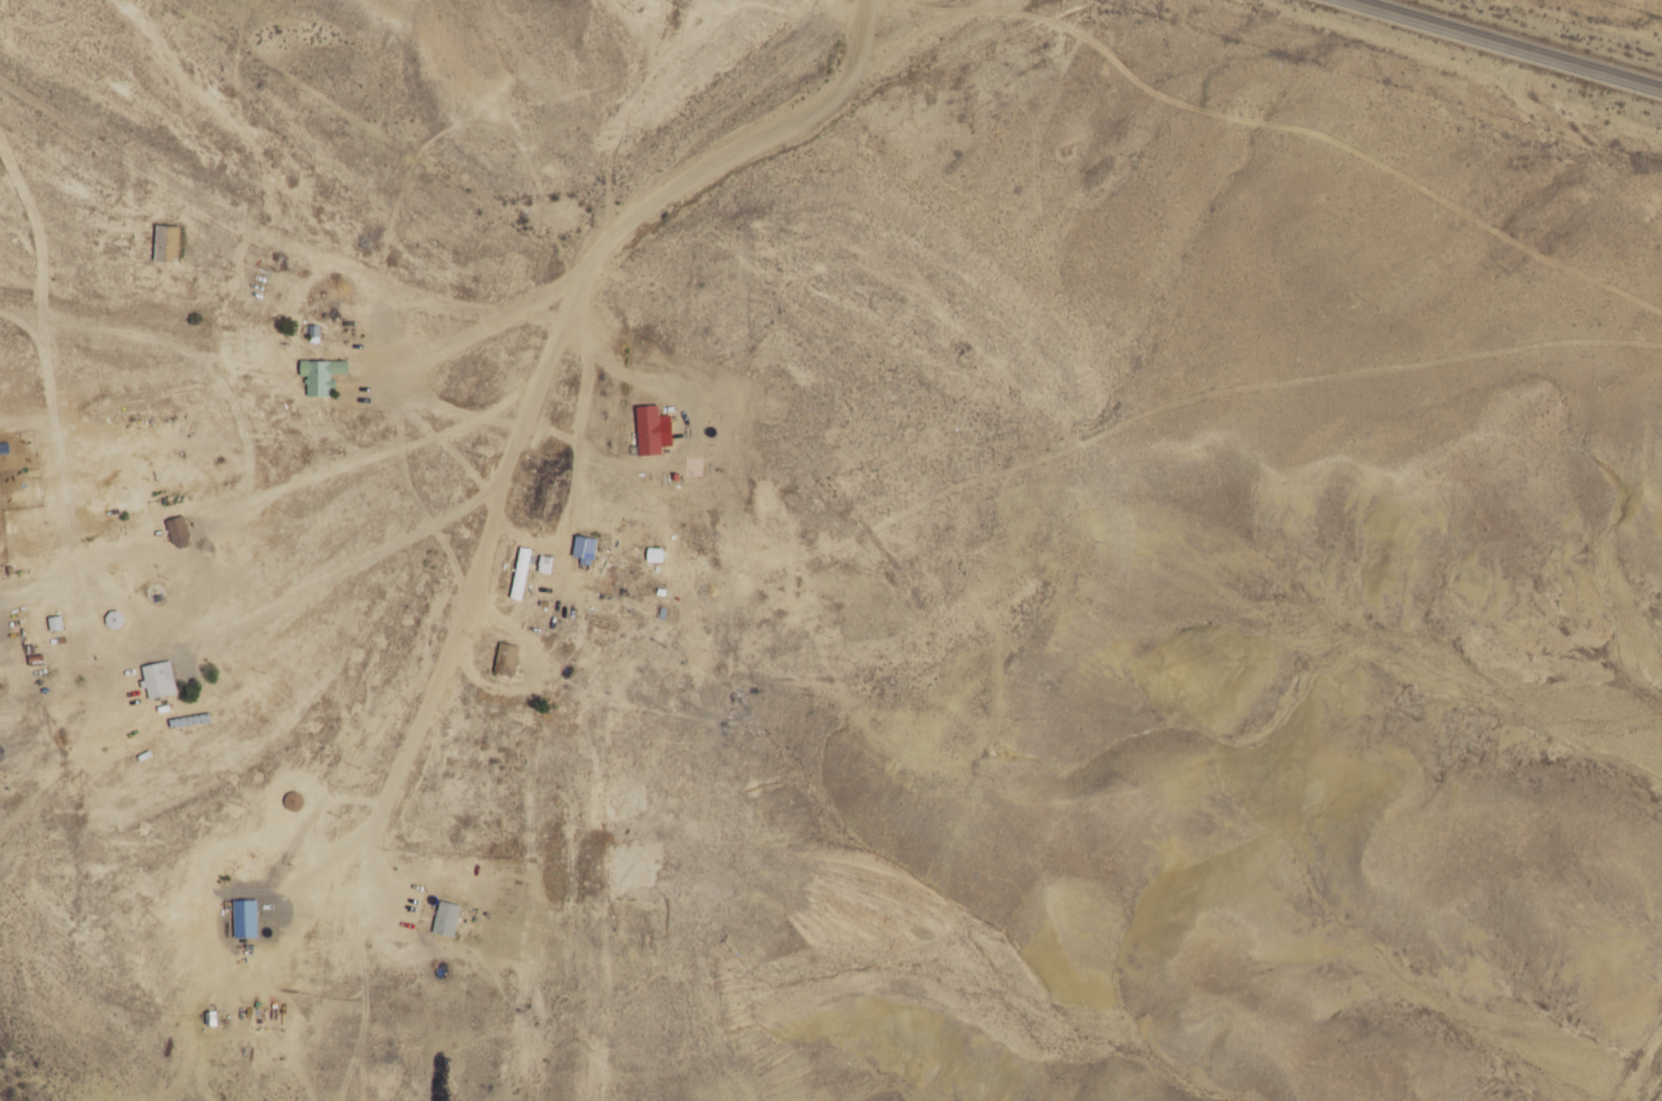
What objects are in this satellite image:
road: (1504, 44)
road: (746, 149)
road: (285, 234)
building: (166, 242)
building: (322, 376)
building: (649, 431)
building: (180, 532)
building: (584, 546)
road: (488, 550)
building: (520, 574)
road: (1204, 592)
road: (118, 617)
building: (506, 659)
building: (155, 680)
building: (294, 801)
building: (246, 919)
building: (446, 919)

